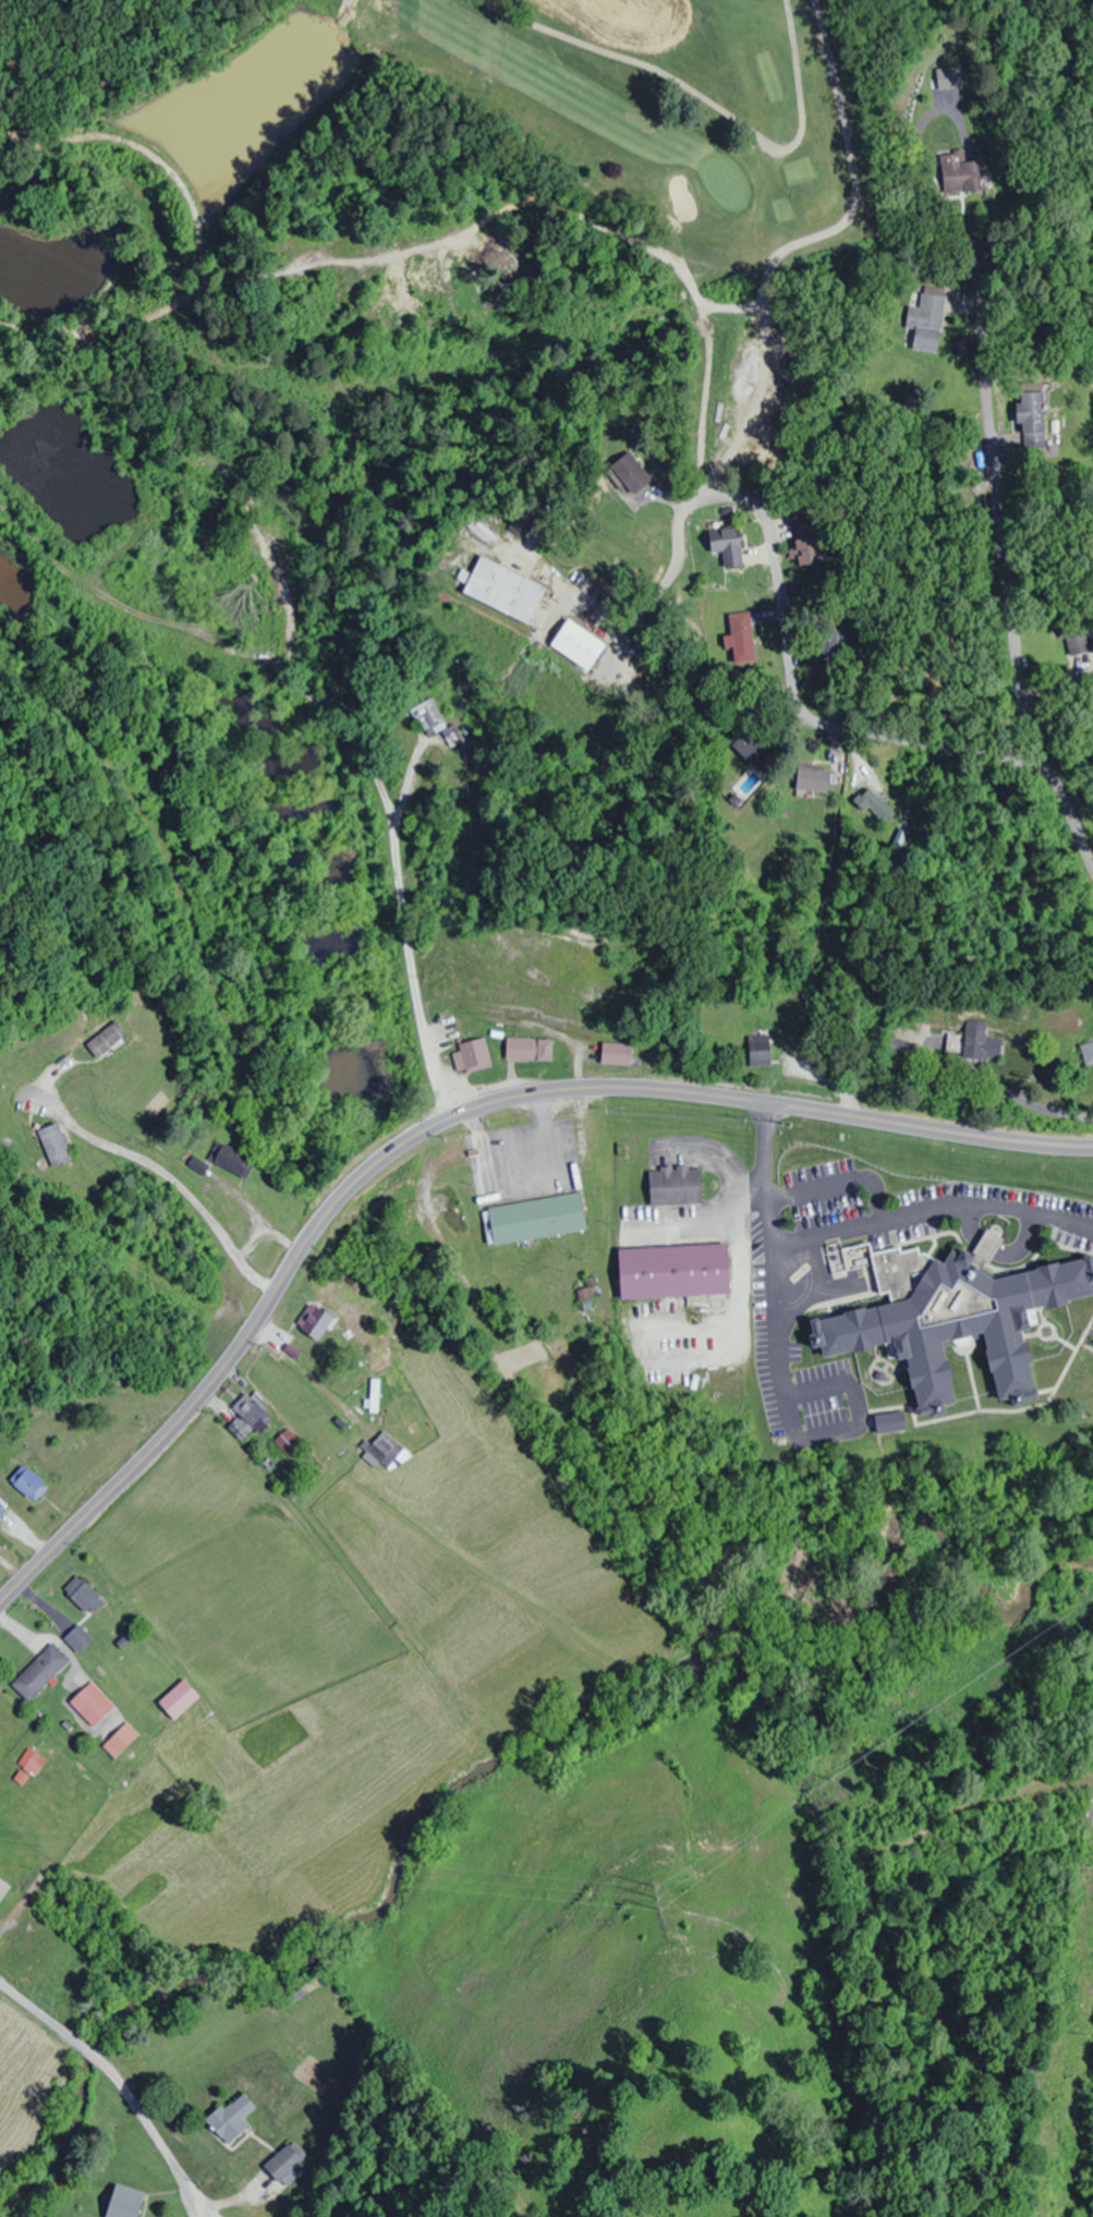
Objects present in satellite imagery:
park: (488, 184)
building: (924, 322)
building: (1032, 417)
building: (631, 472)
road: (995, 519)
building: (521, 521)
building: (806, 541)
building: (727, 544)
building: (503, 589)
building: (741, 637)
building: (576, 643)
building: (1077, 644)
road: (793, 687)
building: (427, 715)
building: (451, 735)
building: (755, 752)
building: (812, 777)
building: (875, 805)
road: (1067, 825)
road: (477, 851)
building: (106, 1040)
building: (973, 1046)
building: (529, 1050)
building: (616, 1054)
building: (1090, 1055)
building: (471, 1056)
building: (758, 1056)
road: (442, 1120)
building: (675, 1185)
building: (533, 1219)
building: (673, 1271)
building: (955, 1316)
building: (313, 1322)
building: (372, 1397)
building: (248, 1415)
building: (890, 1422)
building: (287, 1442)
building: (385, 1452)
building: (26, 1482)
building: (1, 1512)
building: (82, 1594)
building: (77, 1638)
building: (39, 1671)
building: (178, 1699)
building: (90, 1705)
building: (120, 1740)
building: (32, 1767)
building: (1088, 1812)
building: (3, 1889)
building: (23, 1947)
building: (49, 1958)
road: (122, 2086)
building: (232, 2117)
building: (284, 2161)
building: (124, 2201)

